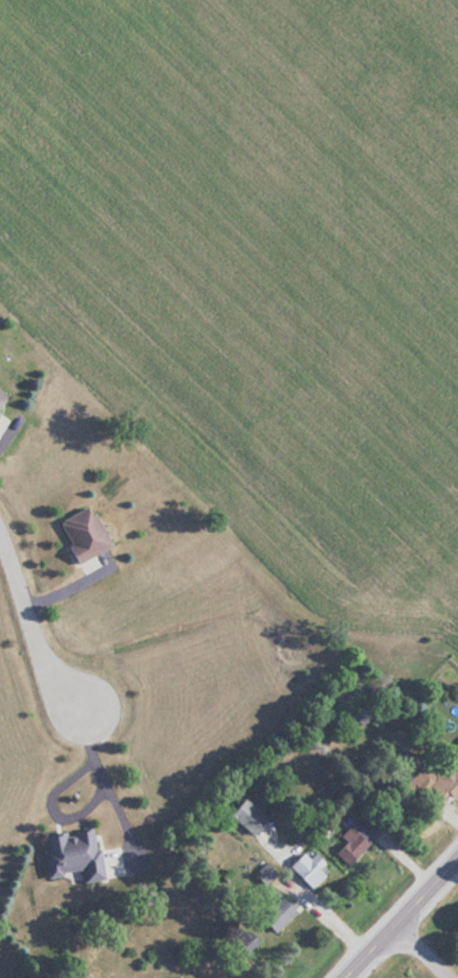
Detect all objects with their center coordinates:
building: (1, 395)
building: (80, 533)
road: (32, 636)
building: (418, 784)
road: (107, 789)
building: (244, 815)
building: (353, 839)
building: (67, 855)
building: (306, 868)
building: (275, 912)
road: (402, 919)
road: (420, 953)
building: (175, 976)

